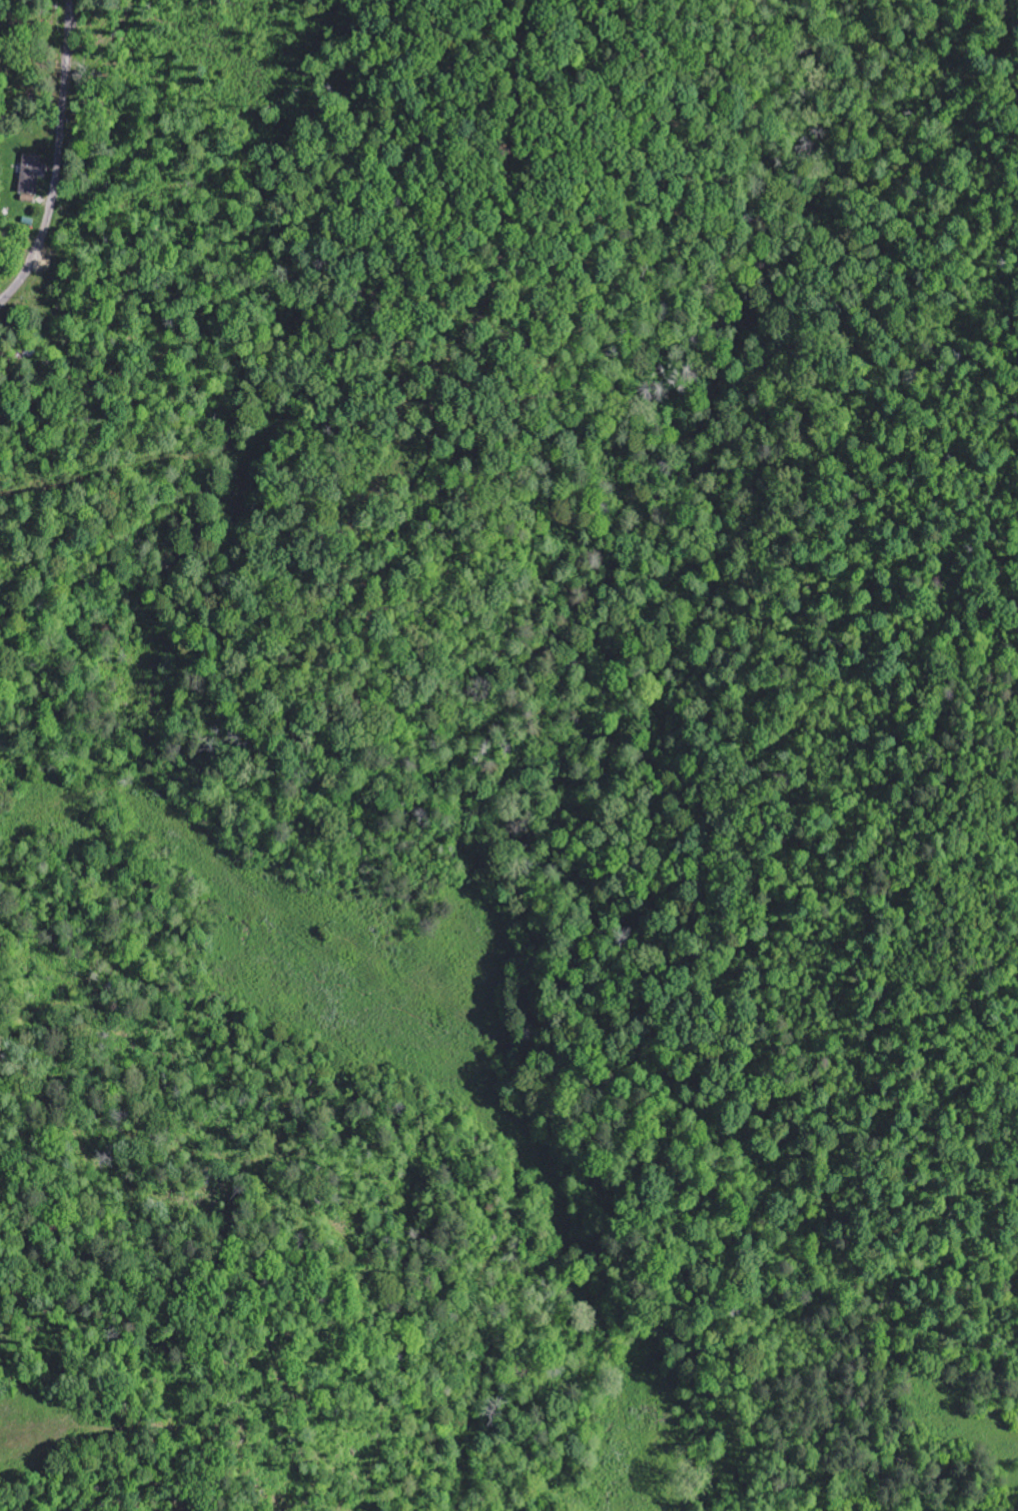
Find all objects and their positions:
road: (55, 157)
building: (31, 175)

